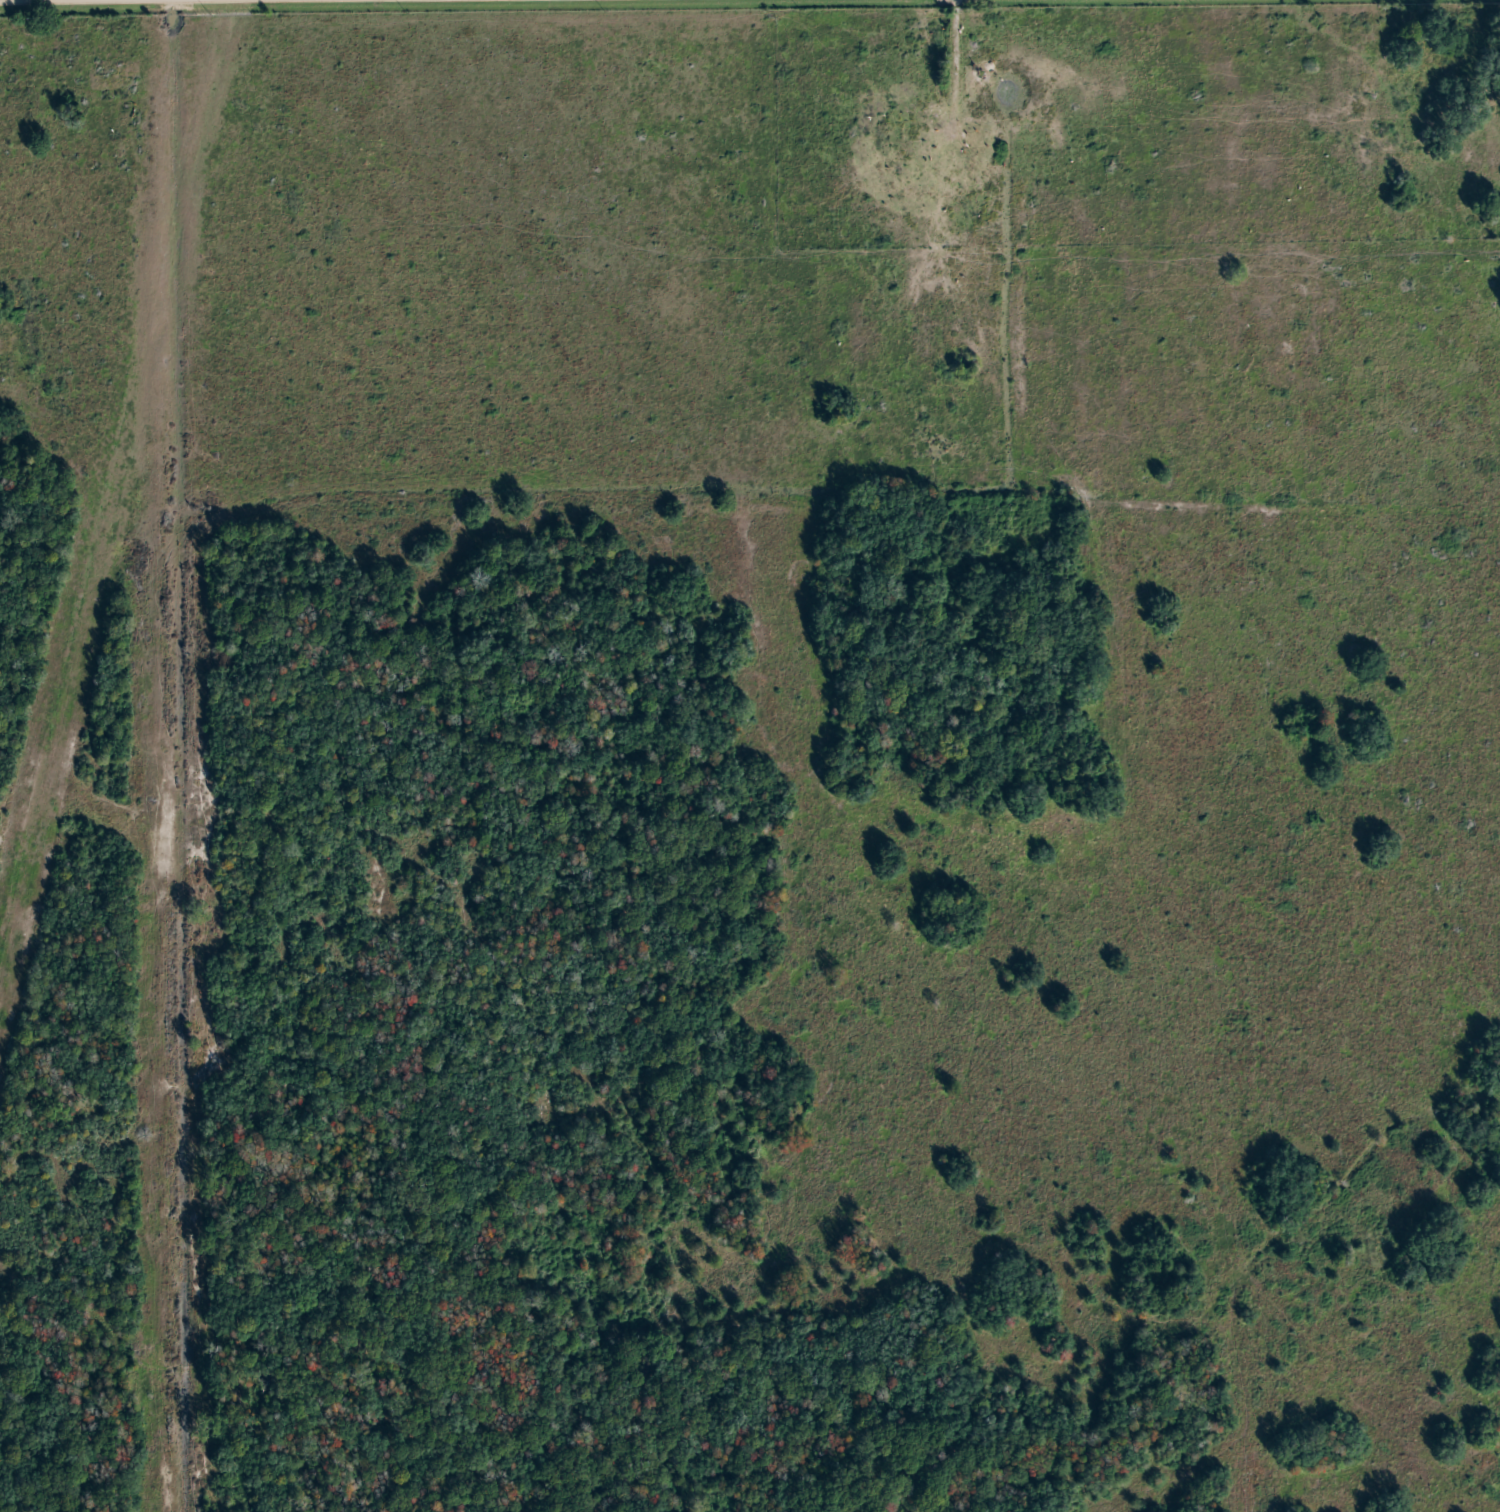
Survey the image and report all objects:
road: (44, 0)

